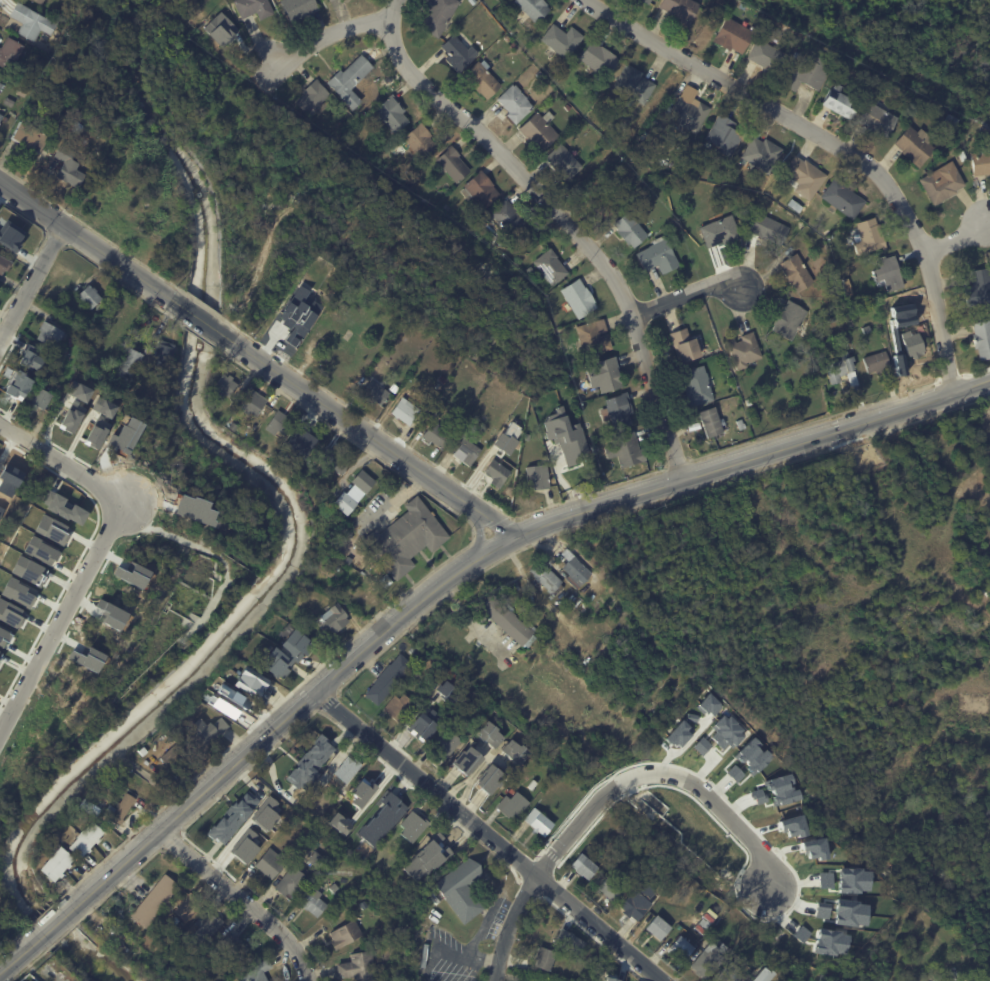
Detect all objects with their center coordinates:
building: (495, 0)
building: (40, 1)
building: (330, 1)
building: (473, 1)
building: (646, 1)
building: (253, 7)
building: (298, 8)
building: (534, 8)
building: (681, 9)
building: (479, 11)
building: (438, 15)
building: (470, 19)
building: (31, 22)
building: (221, 30)
road: (336, 32)
building: (734, 35)
building: (562, 39)
building: (513, 45)
building: (9, 52)
building: (458, 52)
building: (531, 53)
building: (767, 54)
building: (798, 55)
building: (599, 58)
building: (810, 72)
building: (540, 74)
building: (482, 78)
building: (349, 80)
building: (0, 84)
building: (633, 86)
building: (21, 91)
building: (312, 97)
building: (8, 102)
building: (840, 102)
building: (515, 103)
building: (690, 110)
building: (392, 113)
building: (1, 116)
building: (878, 118)
building: (5, 119)
building: (953, 120)
building: (615, 126)
building: (539, 130)
building: (986, 130)
building: (725, 135)
building: (27, 136)
building: (419, 140)
road: (835, 143)
building: (916, 145)
building: (762, 153)
building: (962, 155)
building: (981, 160)
building: (564, 161)
building: (660, 163)
building: (452, 164)
building: (67, 166)
building: (805, 176)
building: (943, 183)
building: (480, 189)
building: (774, 193)
building: (843, 198)
building: (602, 202)
building: (795, 205)
building: (508, 219)
road: (570, 227)
building: (630, 229)
building: (769, 229)
building: (721, 231)
building: (9, 232)
building: (869, 237)
road: (960, 243)
road: (91, 244)
building: (658, 256)
building: (3, 264)
building: (551, 267)
building: (530, 270)
building: (797, 273)
building: (889, 273)
road: (32, 284)
building: (848, 287)
building: (979, 287)
building: (88, 296)
road: (686, 297)
building: (579, 298)
building: (919, 301)
building: (317, 308)
road: (201, 319)
building: (790, 320)
building: (112, 325)
building: (867, 329)
building: (288, 330)
building: (49, 334)
building: (594, 338)
building: (982, 339)
building: (913, 344)
building: (685, 346)
building: (743, 351)
building: (161, 352)
building: (30, 357)
building: (569, 359)
building: (877, 362)
building: (127, 365)
building: (840, 368)
building: (605, 375)
building: (18, 385)
building: (224, 386)
building: (698, 386)
building: (78, 391)
building: (376, 392)
building: (39, 399)
building: (150, 401)
building: (749, 402)
building: (253, 403)
building: (232, 405)
building: (103, 407)
building: (618, 411)
building: (408, 415)
building: (70, 419)
building: (711, 422)
building: (741, 424)
building: (231, 425)
building: (279, 425)
building: (588, 425)
parking lot: (989, 428)
road: (366, 433)
building: (436, 435)
building: (507, 438)
building: (300, 441)
building: (569, 446)
building: (466, 450)
building: (625, 450)
road: (751, 455)
building: (333, 460)
road: (61, 462)
building: (497, 473)
building: (538, 477)
building: (6, 491)
building: (354, 494)
building: (64, 508)
building: (406, 539)
building: (574, 570)
building: (547, 579)
building: (358, 594)
road: (61, 616)
building: (303, 617)
building: (335, 618)
road: (469, 619)
building: (508, 621)
building: (413, 650)
building: (286, 652)
building: (389, 680)
building: (250, 682)
building: (448, 683)
building: (232, 705)
building: (399, 708)
building: (421, 729)
building: (203, 732)
building: (494, 737)
building: (445, 745)
road: (252, 746)
building: (514, 751)
building: (171, 757)
building: (310, 763)
building: (347, 767)
building: (466, 767)
road: (660, 776)
building: (489, 779)
building: (533, 785)
building: (370, 788)
building: (314, 792)
building: (513, 806)
building: (121, 809)
building: (318, 812)
building: (233, 817)
building: (381, 820)
building: (539, 823)
building: (339, 824)
building: (412, 825)
road: (489, 836)
building: (85, 841)
building: (438, 842)
building: (271, 863)
building: (410, 864)
building: (56, 865)
building: (585, 868)
building: (293, 880)
building: (611, 890)
building: (460, 891)
building: (154, 900)
road: (242, 900)
building: (314, 900)
building: (638, 904)
building: (186, 905)
road: (509, 926)
building: (687, 927)
building: (203, 928)
building: (656, 928)
building: (345, 933)
building: (568, 941)
building: (230, 949)
building: (679, 952)
building: (544, 958)
building: (707, 962)
building: (358, 967)
building: (256, 972)
building: (727, 973)
building: (761, 975)
building: (775, 978)
building: (30, 980)
building: (524, 980)

